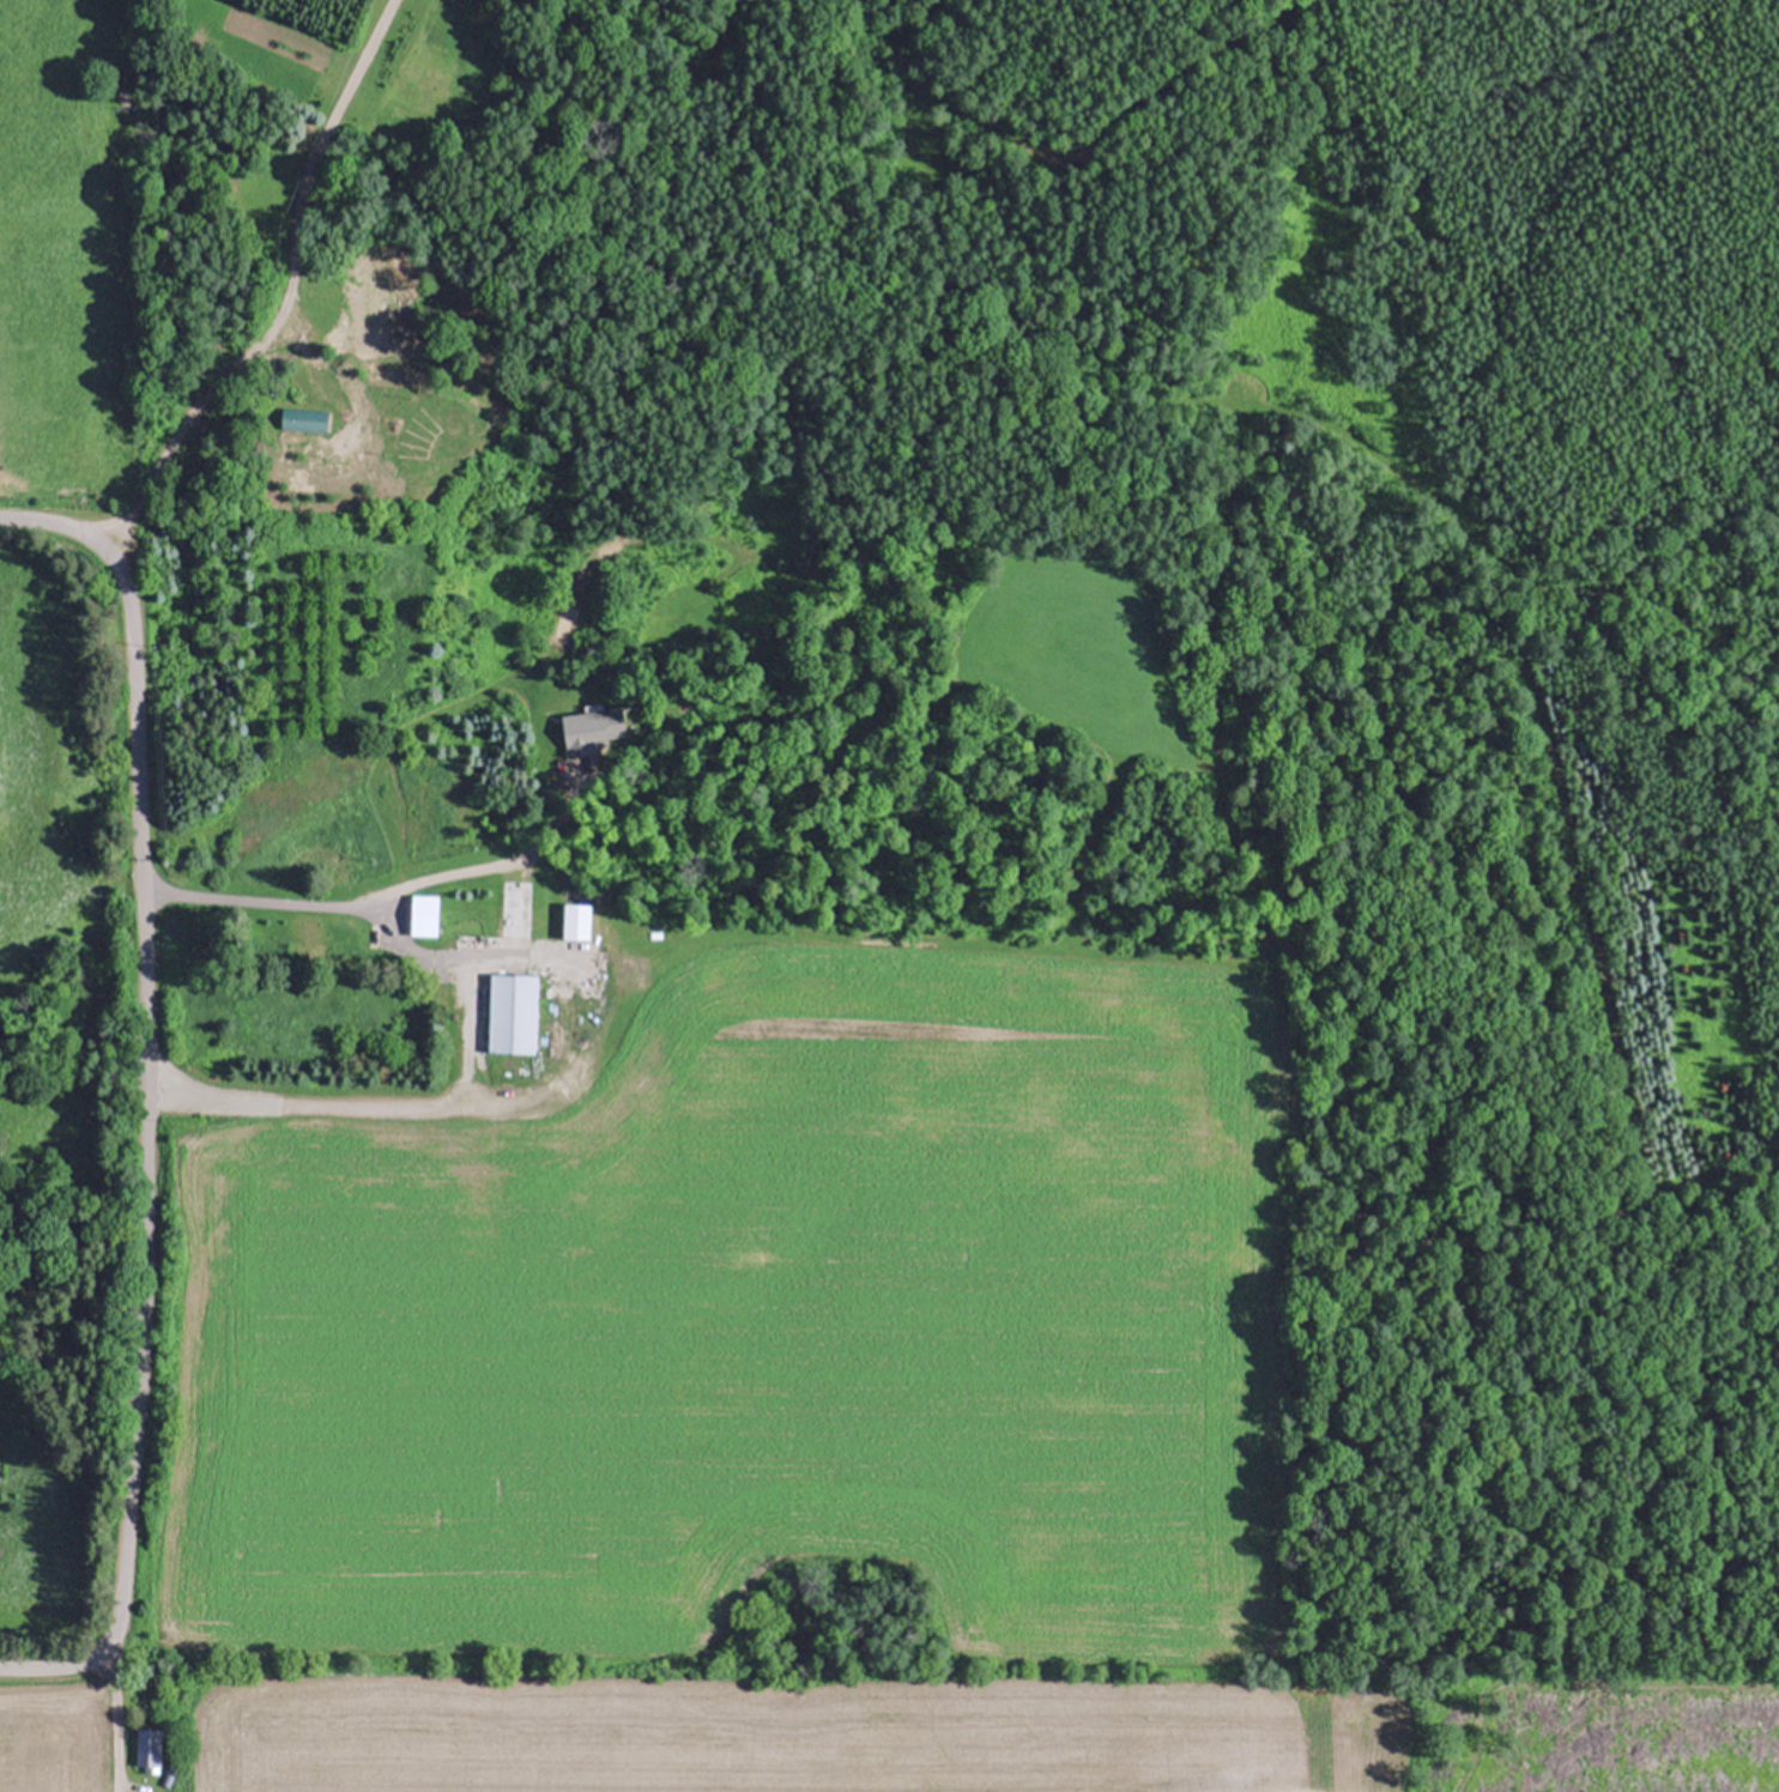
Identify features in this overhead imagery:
road: (286, 291)
building: (304, 419)
building: (411, 823)
building: (476, 915)
building: (576, 920)
building: (345, 942)
building: (513, 1013)
road: (464, 1022)
road: (144, 1095)
road: (113, 1709)
building: (147, 1750)

